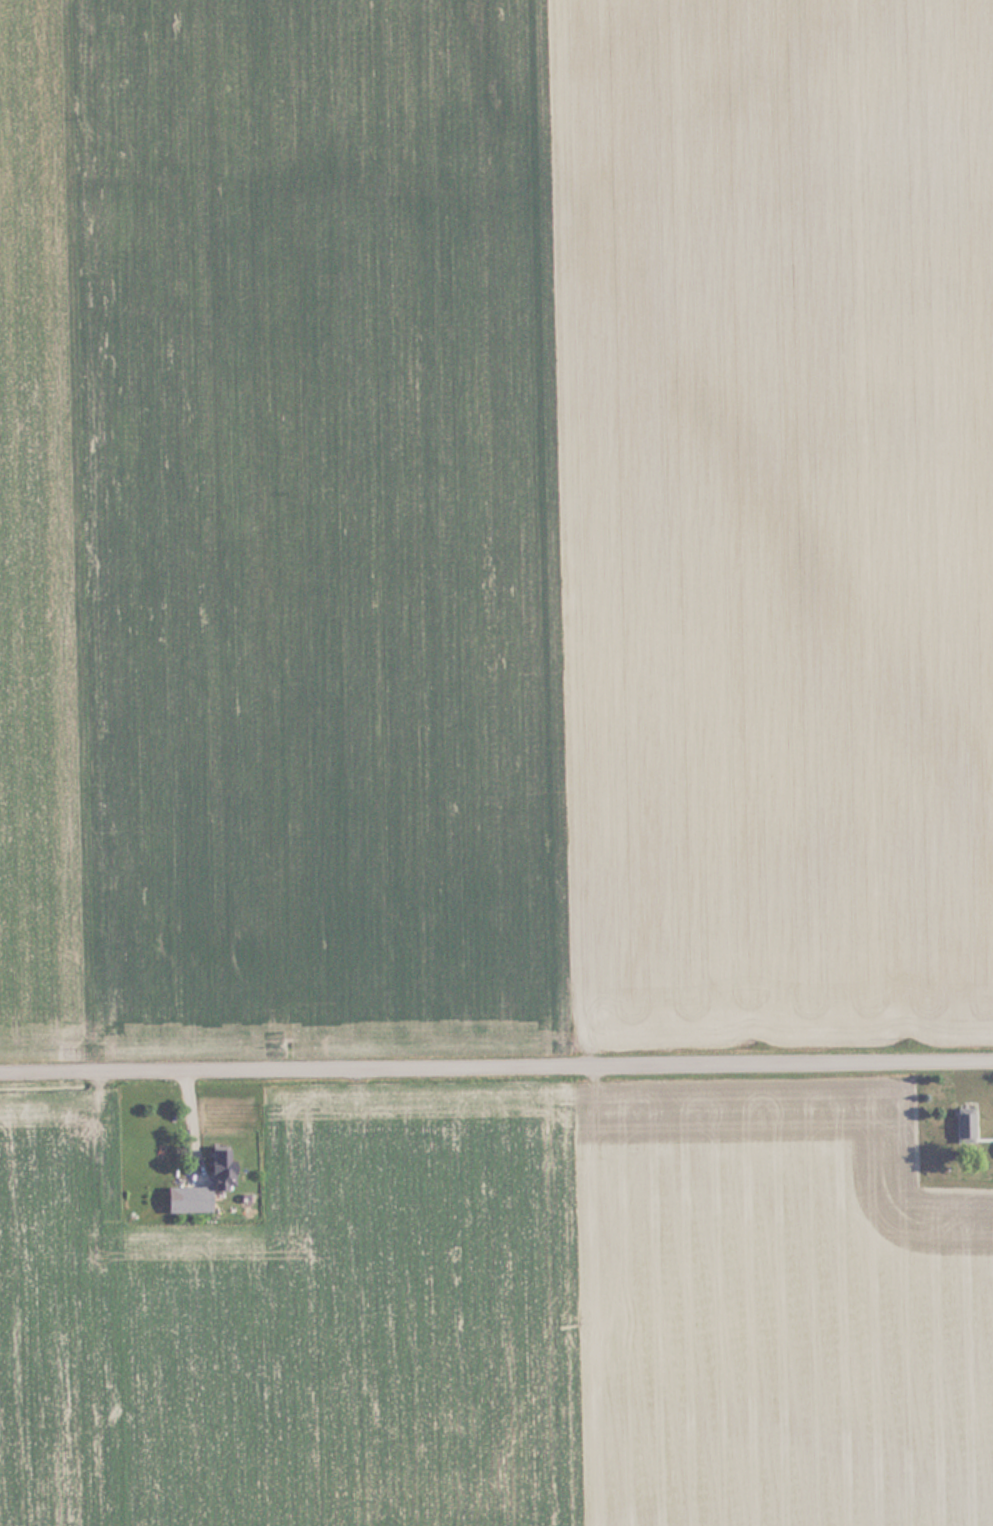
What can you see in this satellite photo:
road: (496, 1062)
building: (962, 1125)
building: (217, 1156)

